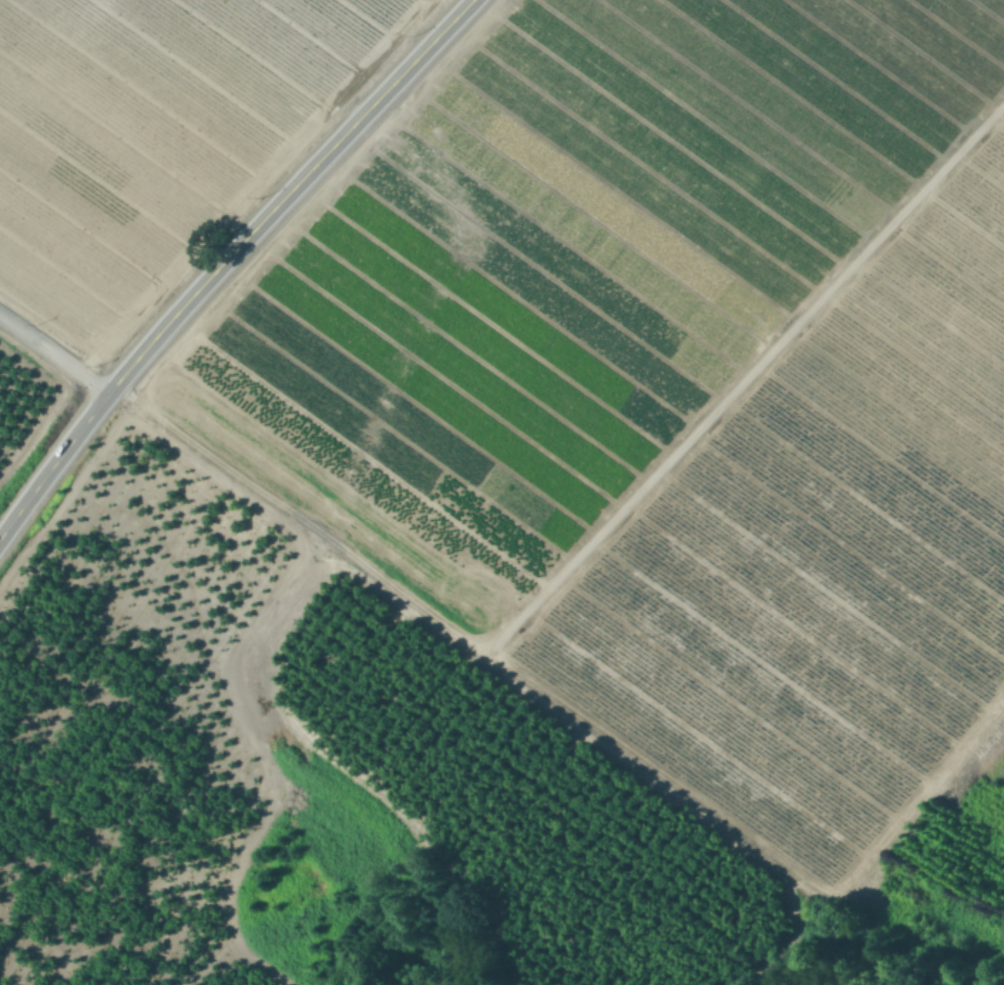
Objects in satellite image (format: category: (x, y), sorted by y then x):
crop: (162, 137)
road: (226, 259)
road: (54, 354)
crop: (686, 416)

